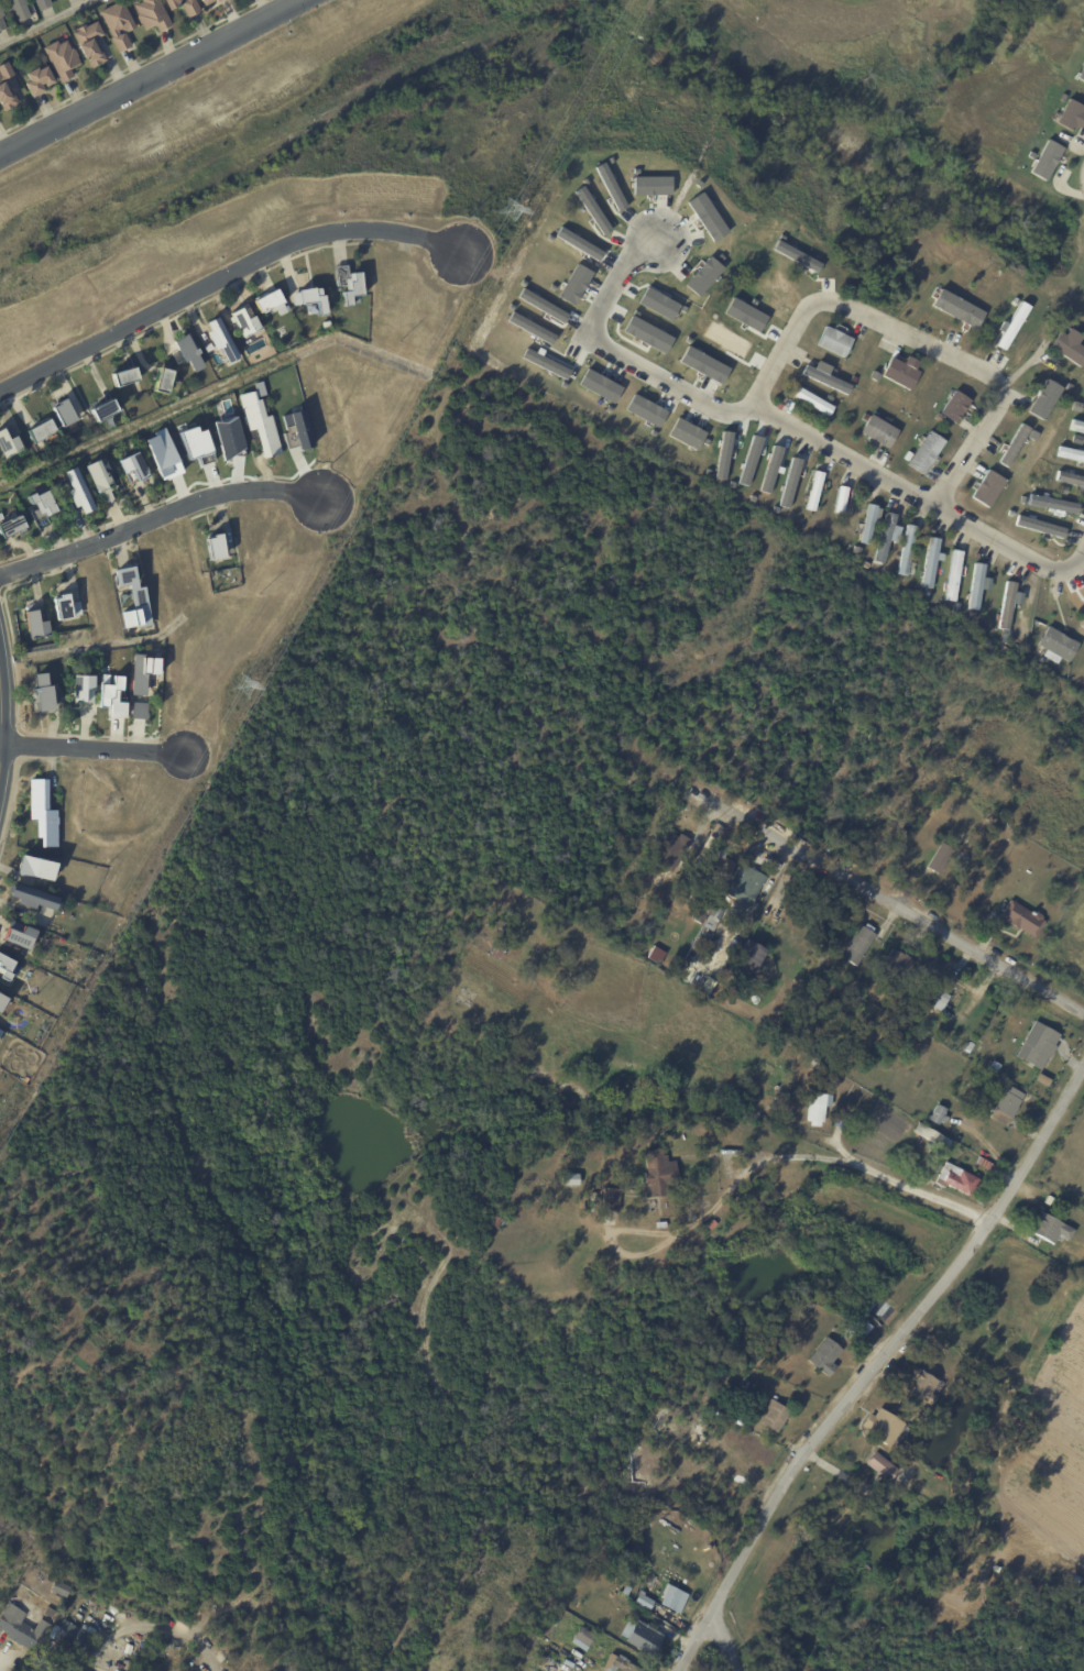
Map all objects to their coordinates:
building: (207, 1)
building: (218, 1)
building: (44, 3)
building: (184, 6)
building: (19, 9)
building: (152, 14)
building: (1, 20)
road: (48, 23)
building: (118, 24)
building: (14, 26)
building: (90, 43)
building: (62, 59)
building: (1081, 74)
road: (154, 78)
building: (39, 80)
building: (6, 89)
building: (1065, 98)
building: (1072, 117)
building: (1045, 158)
building: (650, 185)
building: (610, 187)
power tower: (511, 209)
building: (579, 243)
building: (699, 279)
road: (228, 283)
building: (574, 283)
building: (351, 288)
building: (270, 299)
building: (309, 300)
building: (1016, 300)
building: (658, 303)
building: (541, 305)
building: (959, 309)
building: (242, 321)
building: (326, 323)
building: (1014, 326)
building: (530, 327)
building: (647, 333)
building: (220, 341)
road: (917, 341)
building: (835, 342)
road: (782, 345)
building: (1071, 347)
building: (185, 351)
road: (616, 352)
building: (545, 363)
building: (901, 372)
building: (1076, 372)
building: (122, 375)
building: (824, 376)
building: (160, 381)
building: (600, 385)
building: (1072, 389)
building: (1047, 394)
building: (1083, 397)
building: (813, 400)
building: (956, 407)
building: (646, 409)
building: (106, 410)
building: (64, 413)
building: (260, 422)
building: (1077, 426)
building: (1051, 428)
building: (295, 429)
building: (41, 430)
building: (880, 431)
building: (687, 433)
building: (227, 435)
building: (1034, 436)
building: (9, 442)
building: (194, 444)
building: (1016, 446)
road: (975, 451)
building: (926, 452)
building: (1071, 453)
building: (162, 454)
building: (748, 460)
building: (131, 463)
building: (769, 469)
building: (1070, 479)
building: (98, 481)
building: (789, 482)
building: (988, 488)
building: (76, 490)
building: (1064, 491)
building: (815, 492)
road: (919, 497)
building: (841, 501)
building: (1051, 503)
building: (41, 508)
building: (1011, 514)
road: (162, 517)
building: (868, 524)
building: (12, 526)
building: (1040, 527)
building: (885, 535)
building: (217, 545)
building: (907, 550)
building: (857, 551)
building: (930, 562)
building: (953, 575)
building: (978, 587)
building: (133, 596)
building: (1008, 604)
building: (65, 606)
building: (956, 608)
building: (973, 615)
building: (35, 626)
building: (1082, 628)
building: (1059, 644)
building: (1033, 658)
building: (143, 670)
power tower: (243, 685)
building: (83, 688)
building: (43, 692)
building: (112, 696)
building: (139, 710)
road: (0, 730)
road: (91, 748)
building: (956, 765)
building: (921, 792)
building: (43, 812)
building: (56, 851)
building: (677, 851)
building: (941, 859)
building: (36, 867)
building: (716, 869)
building: (746, 884)
building: (33, 897)
building: (677, 901)
road: (893, 903)
building: (703, 910)
building: (716, 912)
building: (1023, 919)
building: (714, 924)
building: (19, 934)
building: (709, 934)
building: (61, 938)
building: (627, 941)
building: (858, 945)
building: (499, 948)
building: (753, 954)
building: (657, 956)
building: (898, 964)
building: (7, 967)
building: (802, 992)
building: (932, 994)
building: (2, 1002)
building: (0, 1029)
building: (1, 1032)
building: (913, 1044)
building: (1039, 1045)
building: (968, 1047)
building: (981, 1047)
building: (995, 1067)
building: (1000, 1073)
building: (834, 1077)
building: (1043, 1078)
building: (25, 1079)
building: (976, 1079)
building: (811, 1080)
building: (1008, 1106)
building: (817, 1109)
building: (940, 1115)
building: (842, 1121)
building: (933, 1137)
road: (190, 1144)
road: (799, 1155)
road: (147, 1163)
building: (986, 1165)
building: (659, 1174)
building: (570, 1179)
building: (957, 1179)
road: (917, 1189)
building: (612, 1198)
building: (609, 1218)
building: (500, 1223)
building: (660, 1224)
building: (1050, 1229)
building: (862, 1322)
building: (826, 1357)
road: (874, 1366)
building: (922, 1385)
building: (775, 1417)
building: (885, 1427)
crop: (1044, 1466)
building: (883, 1467)
building: (997, 1569)
building: (1076, 1580)
building: (59, 1590)
building: (624, 1591)
building: (671, 1598)
building: (642, 1603)
building: (549, 1618)
building: (21, 1630)
building: (74, 1637)
building: (637, 1637)
building: (578, 1639)
road: (722, 1642)
building: (207, 1650)
building: (614, 1664)
building: (563, 1665)
building: (72, 1670)

